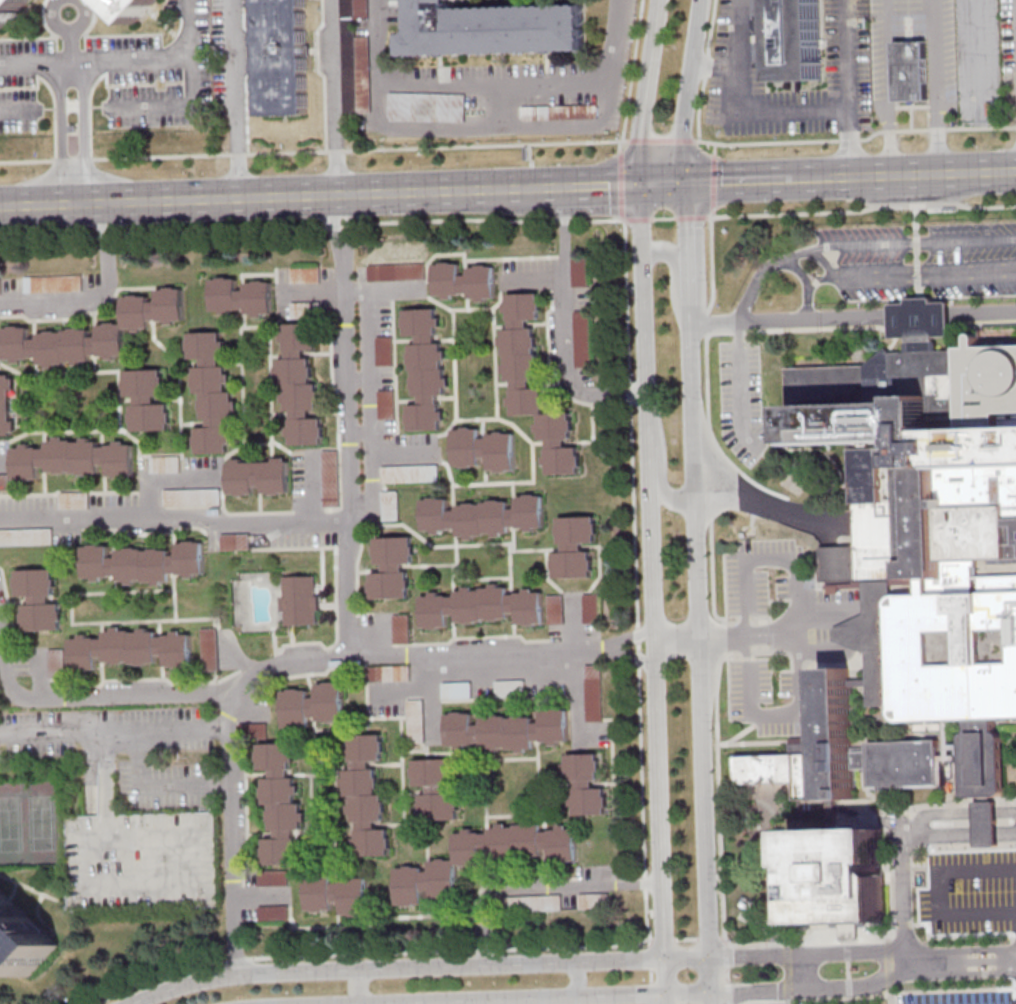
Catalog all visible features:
building: (132, 7)
building: (9, 9)
building: (491, 28)
road: (67, 32)
road: (739, 35)
building: (795, 39)
road: (651, 44)
road: (72, 49)
building: (283, 57)
building: (355, 57)
road: (125, 64)
road: (632, 70)
road: (705, 70)
building: (910, 71)
road: (322, 73)
road: (247, 74)
road: (492, 85)
road: (936, 86)
road: (886, 87)
road: (848, 88)
road: (690, 91)
road: (335, 97)
road: (239, 98)
building: (427, 107)
road: (169, 108)
road: (751, 111)
road: (17, 112)
road: (83, 120)
road: (61, 121)
road: (490, 126)
road: (638, 136)
road: (662, 140)
road: (857, 140)
road: (486, 145)
road: (620, 146)
road: (714, 149)
road: (336, 151)
road: (291, 152)
road: (241, 153)
road: (530, 155)
road: (114, 156)
road: (971, 171)
road: (916, 174)
road: (871, 175)
road: (530, 177)
road: (814, 178)
road: (739, 180)
traffic signals: (688, 183)
road: (713, 183)
road: (620, 184)
road: (664, 184)
road: (597, 185)
traffic signals: (641, 185)
road: (74, 188)
road: (447, 191)
road: (291, 196)
road: (120, 201)
road: (861, 209)
road: (691, 217)
road: (663, 218)
road: (637, 219)
road: (311, 225)
road: (857, 242)
road: (916, 250)
road: (690, 254)
road: (712, 262)
road: (908, 271)
building: (396, 272)
building: (580, 272)
road: (676, 275)
road: (536, 276)
road: (820, 279)
building: (464, 280)
road: (806, 281)
building: (53, 283)
road: (391, 290)
road: (318, 291)
building: (241, 296)
road: (99, 297)
road: (983, 312)
road: (921, 315)
road: (792, 318)
building: (921, 318)
building: (124, 324)
road: (565, 324)
road: (949, 326)
road: (794, 329)
building: (583, 339)
building: (384, 350)
building: (426, 369)
building: (534, 384)
building: (301, 385)
road: (740, 389)
building: (212, 393)
building: (147, 400)
road: (369, 401)
building: (387, 404)
building: (7, 405)
road: (348, 423)
road: (708, 423)
building: (484, 449)
road: (402, 457)
building: (74, 459)
building: (166, 464)
road: (659, 469)
road: (709, 471)
building: (409, 473)
building: (258, 476)
road: (166, 479)
building: (4, 482)
building: (175, 494)
building: (74, 500)
road: (766, 504)
building: (391, 506)
building: (483, 516)
road: (175, 518)
building: (929, 536)
building: (26, 537)
building: (235, 542)
building: (574, 546)
building: (144, 563)
building: (392, 567)
road: (651, 571)
building: (39, 599)
building: (301, 600)
building: (482, 606)
building: (555, 609)
building: (402, 628)
road: (703, 641)
building: (131, 649)
building: (210, 649)
road: (460, 656)
building: (56, 663)
building: (389, 673)
road: (419, 684)
road: (749, 685)
building: (458, 690)
building: (594, 693)
road: (97, 698)
road: (434, 704)
building: (314, 705)
building: (417, 721)
road: (113, 729)
building: (253, 730)
building: (507, 730)
building: (844, 753)
road: (154, 786)
building: (586, 786)
building: (436, 789)
building: (367, 796)
building: (280, 803)
road: (957, 812)
park: (41, 822)
park: (11, 823)
road: (230, 835)
road: (901, 847)
building: (483, 858)
road: (720, 859)
building: (839, 875)
building: (274, 877)
road: (537, 885)
road: (939, 891)
building: (338, 894)
building: (591, 901)
building: (533, 903)
building: (274, 913)
building: (23, 936)
road: (961, 950)
road: (809, 954)
road: (688, 958)
traffic signals: (713, 958)
traffic signals: (663, 959)
road: (962, 961)
road: (397, 967)
road: (963, 972)
road: (806, 973)
road: (714, 976)
road: (663, 977)
road: (577, 978)
road: (358, 986)
road: (813, 990)
traffic signals: (715, 994)
road: (689, 995)
traffic signals: (664, 996)
road: (545, 999)
road: (715, 999)
road: (664, 1000)

